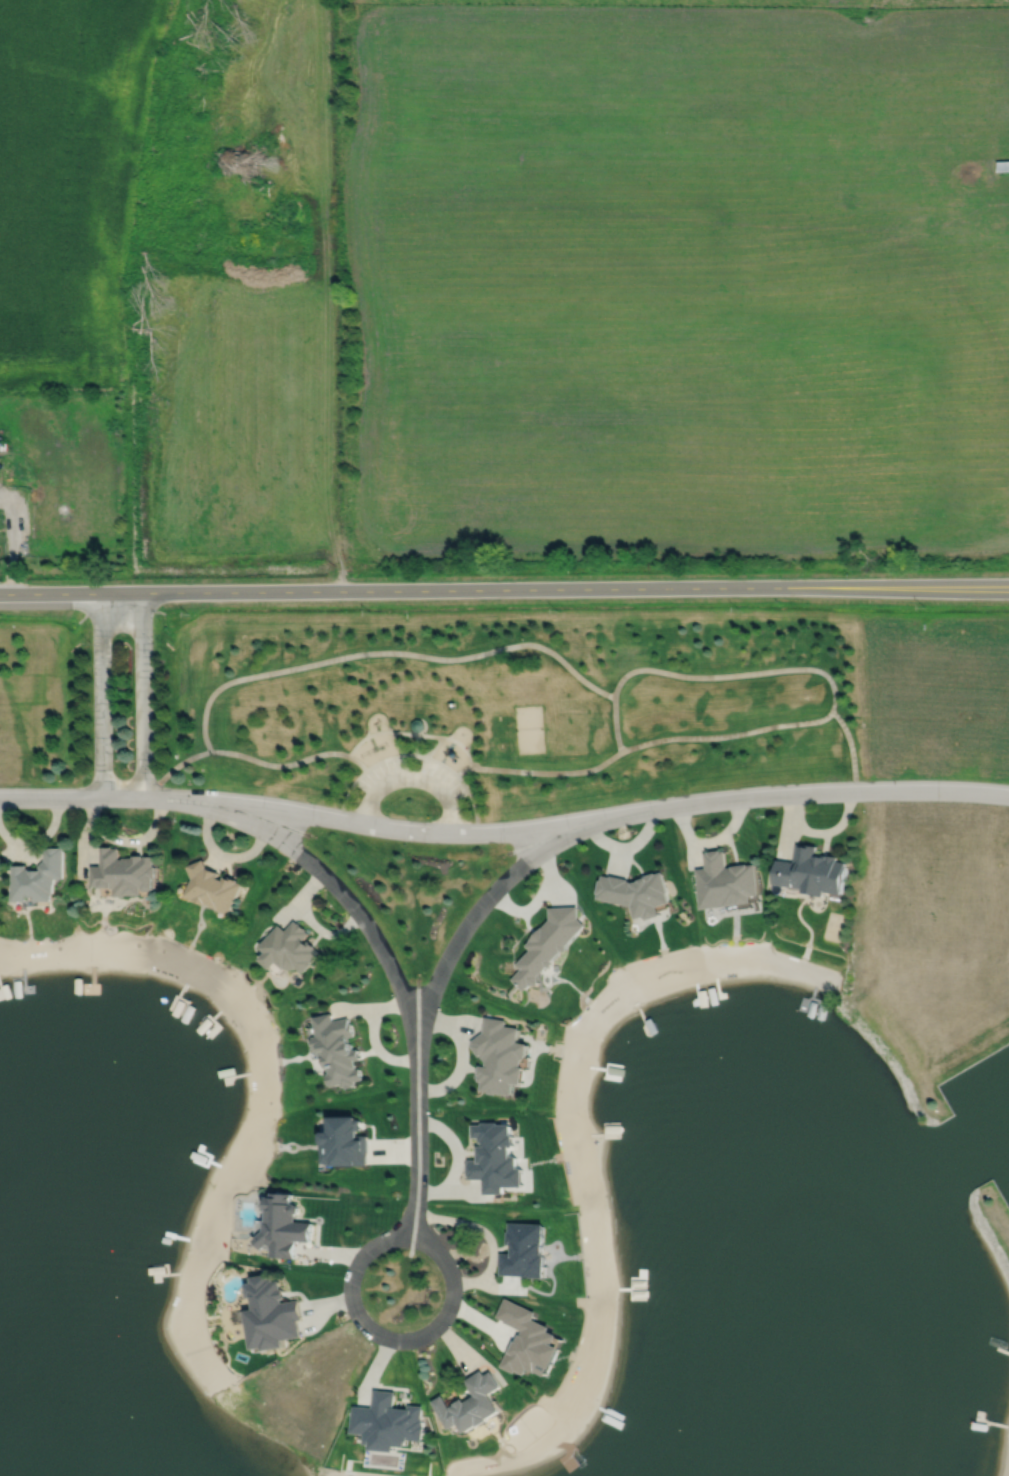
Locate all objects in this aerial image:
building: (1001, 165)
crop: (67, 182)
crop: (674, 275)
building: (2, 447)
building: (5, 471)
road: (1004, 587)
road: (499, 588)
road: (388, 652)
road: (732, 674)
road: (101, 694)
road: (143, 695)
park: (476, 700)
road: (616, 723)
building: (418, 725)
park: (529, 729)
road: (405, 733)
road: (366, 735)
road: (429, 735)
road: (727, 735)
road: (416, 745)
road: (461, 746)
road: (399, 748)
road: (850, 749)
road: (431, 751)
road: (390, 759)
road: (182, 761)
road: (358, 762)
road: (437, 762)
road: (279, 765)
road: (463, 770)
road: (548, 772)
road: (414, 777)
parking lot: (377, 780)
road: (349, 793)
road: (51, 797)
road: (472, 801)
road: (370, 811)
road: (453, 817)
road: (555, 826)
building: (122, 872)
building: (811, 872)
building: (37, 877)
building: (726, 882)
building: (212, 887)
road: (338, 888)
building: (636, 893)
road: (482, 904)
building: (547, 944)
building: (289, 948)
building: (210, 1029)
building: (337, 1050)
building: (499, 1057)
road: (417, 1139)
building: (346, 1141)
building: (493, 1160)
building: (284, 1225)
building: (523, 1250)
building: (271, 1313)
road: (390, 1339)
building: (527, 1340)
building: (470, 1403)
building: (388, 1422)

